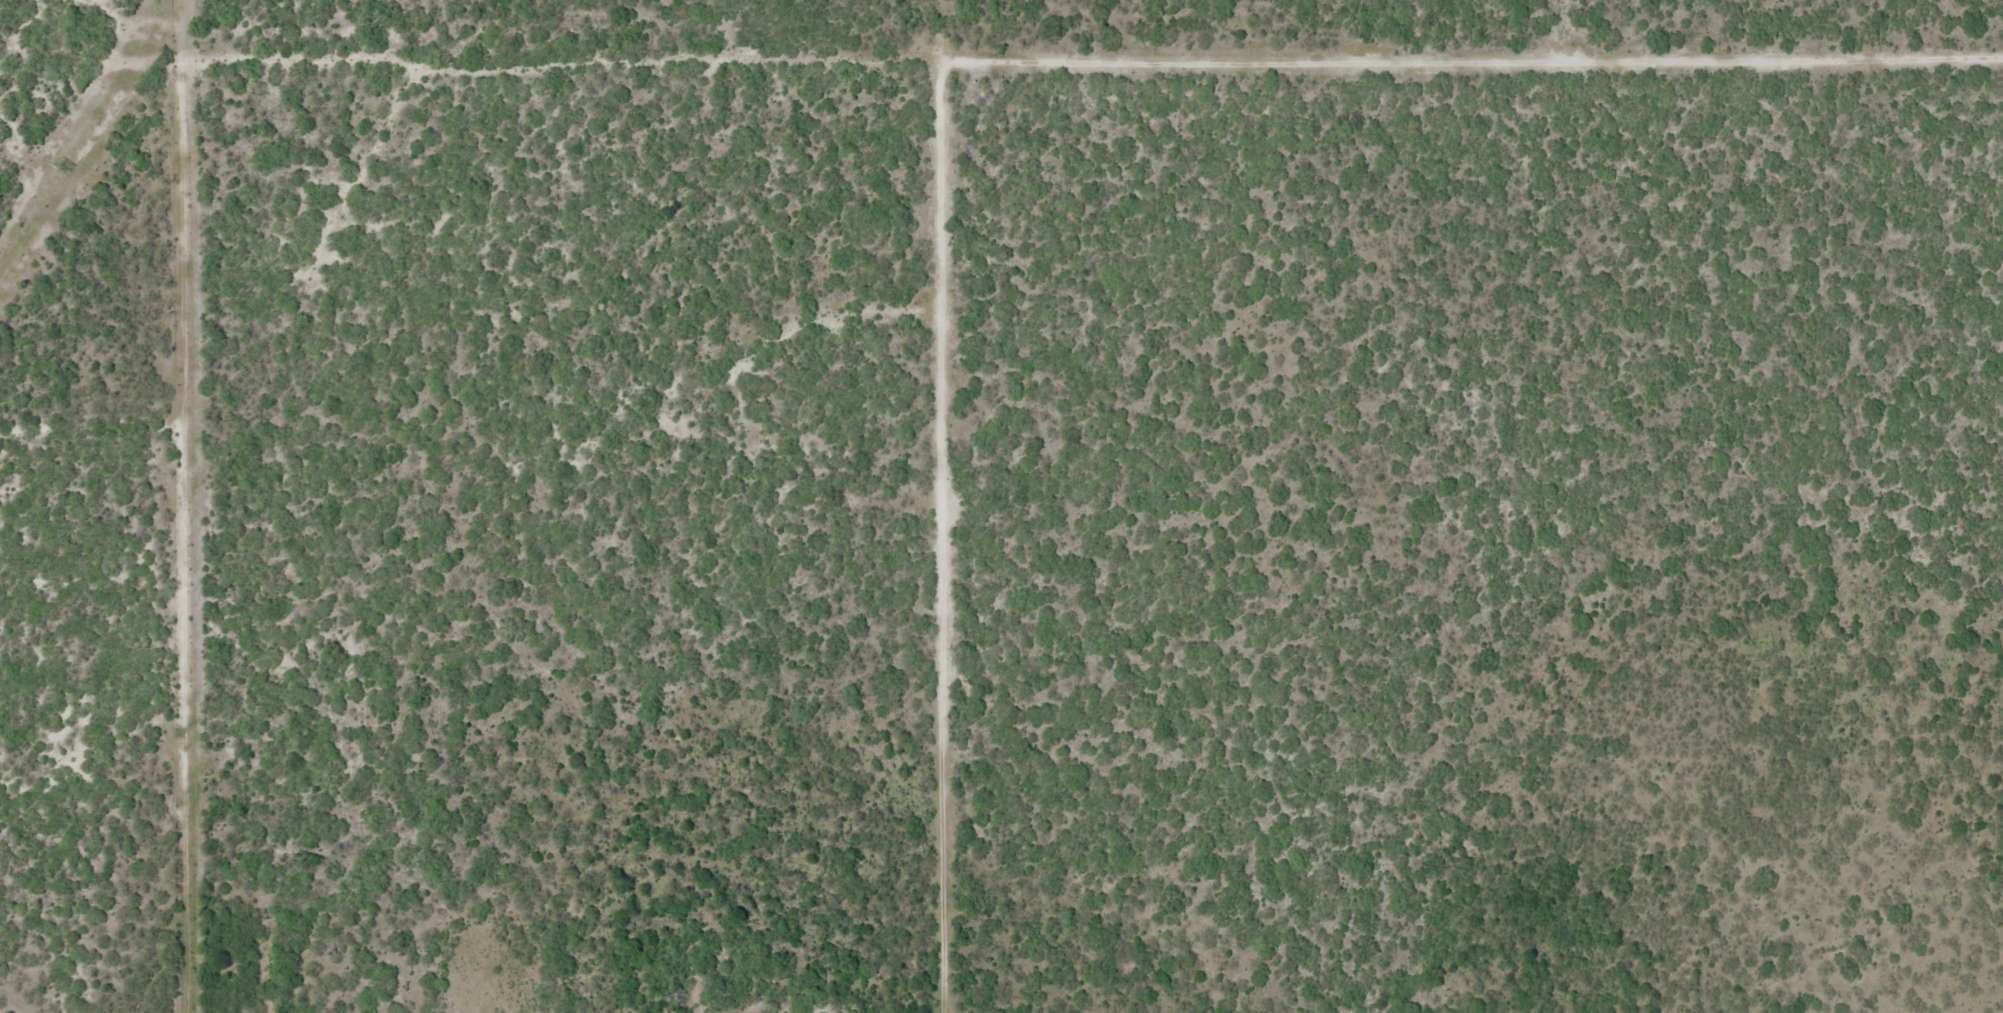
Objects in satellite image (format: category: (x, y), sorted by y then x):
road: (1469, 81)
power tower: (63, 166)
road: (936, 554)

